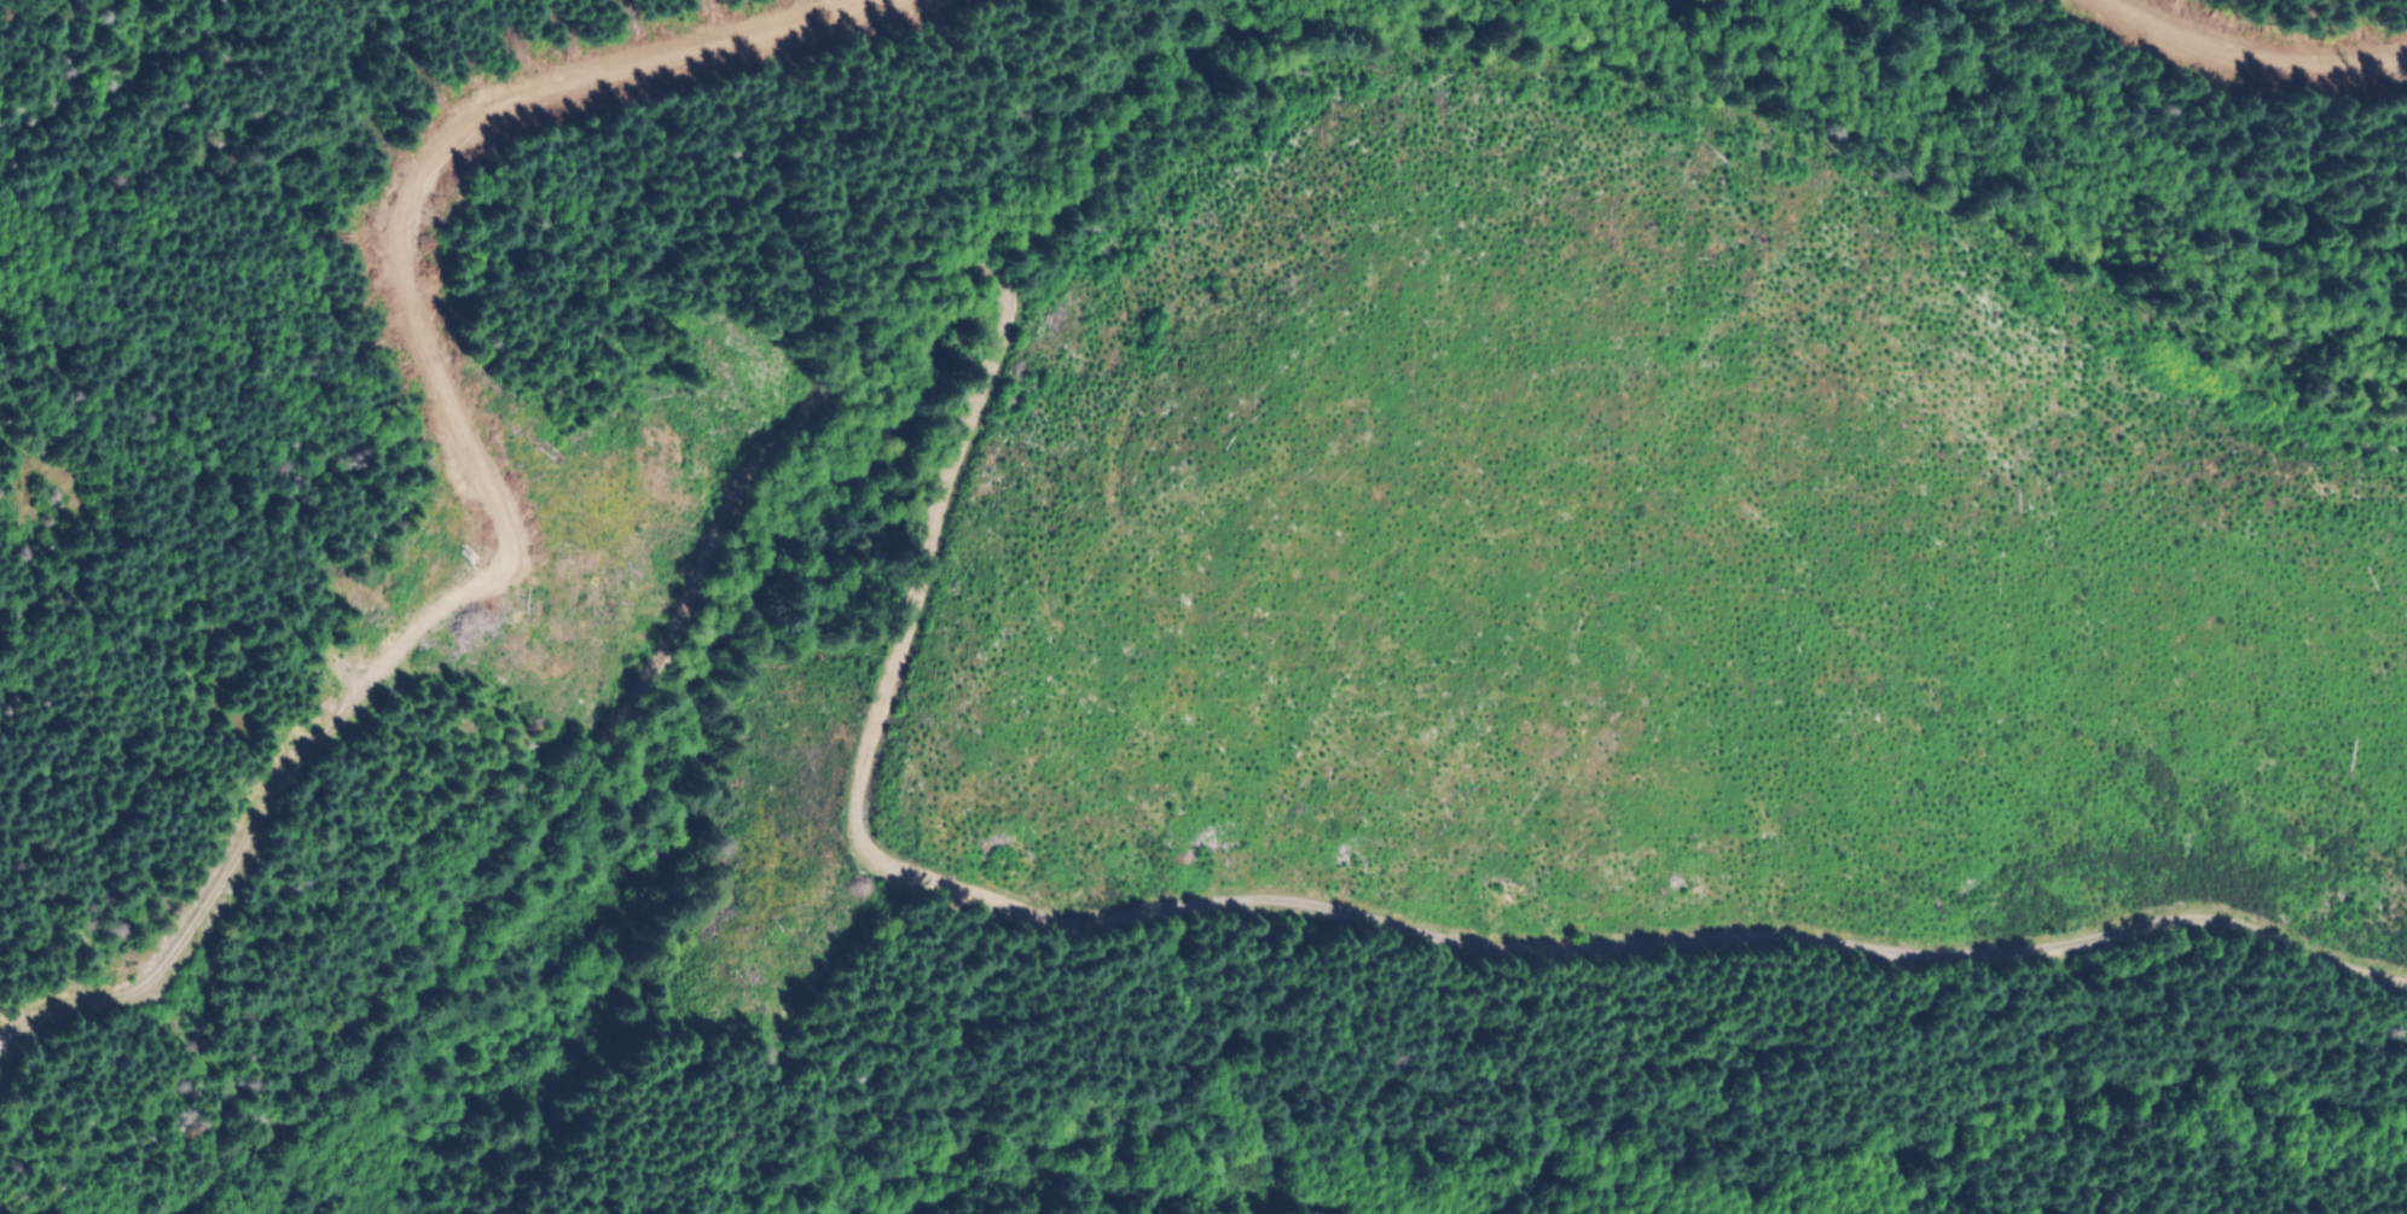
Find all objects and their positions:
road: (883, 705)

